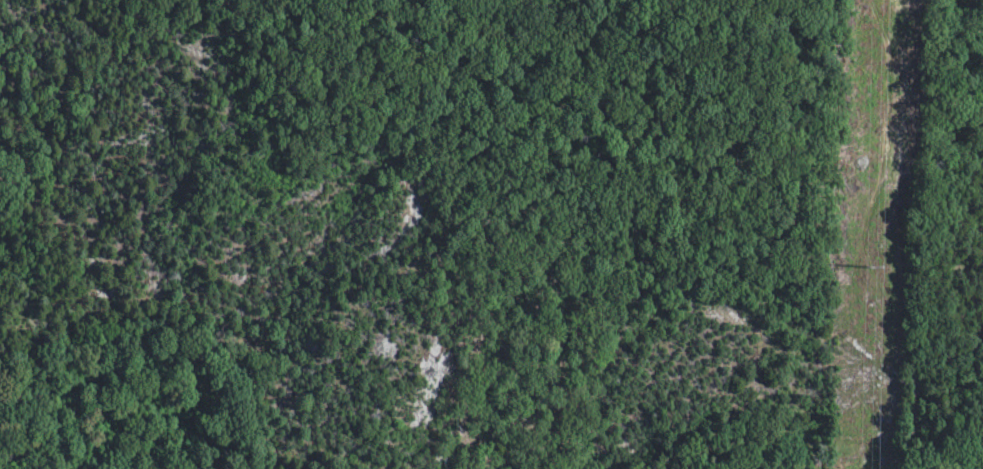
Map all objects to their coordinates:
power tower: (866, 267)

